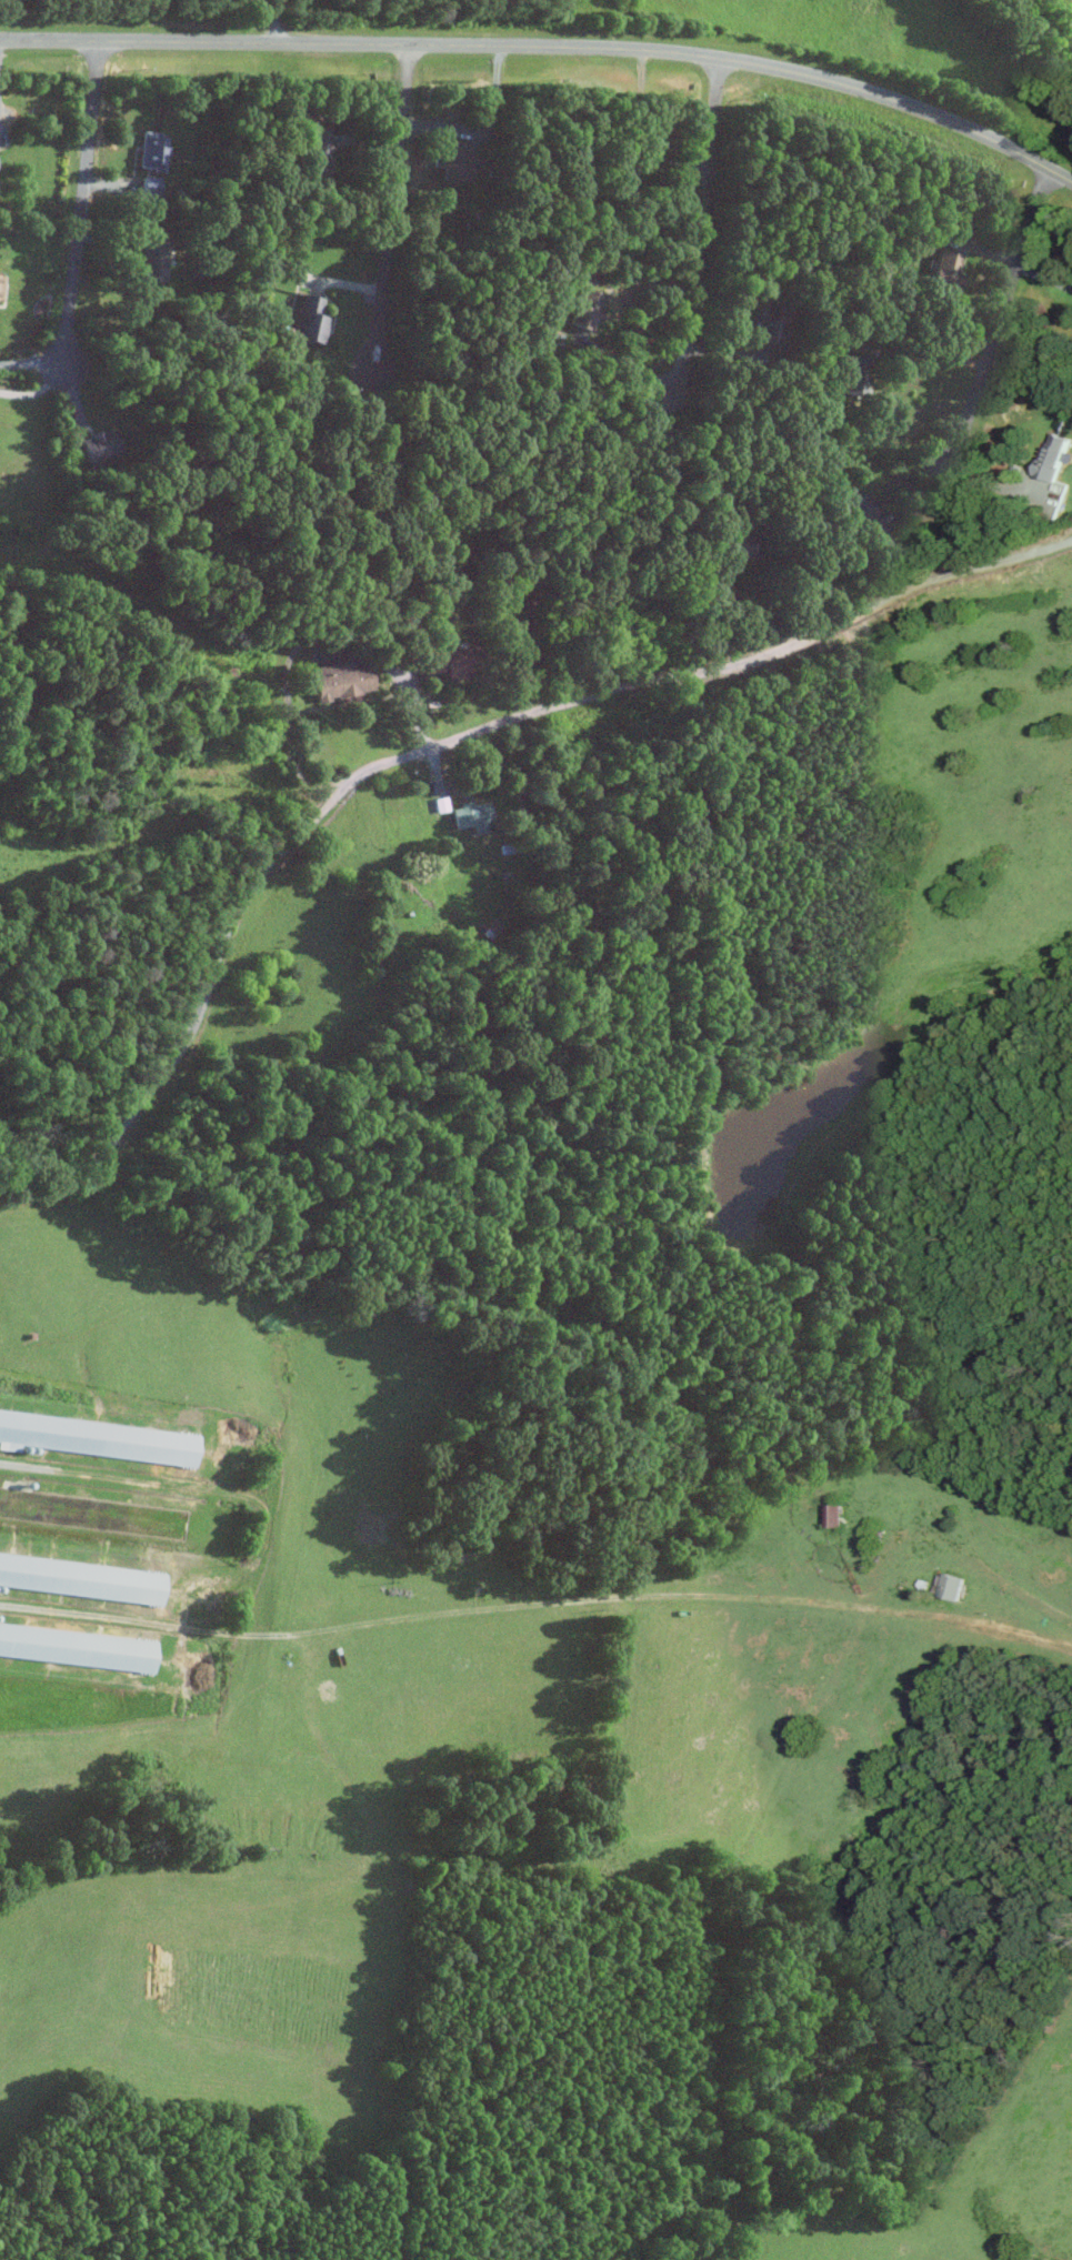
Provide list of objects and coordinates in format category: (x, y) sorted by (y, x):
road: (273, 16)
road: (549, 41)
building: (150, 150)
building: (320, 153)
building: (453, 159)
building: (149, 190)
road: (73, 197)
road: (701, 211)
road: (379, 220)
building: (151, 261)
building: (945, 269)
road: (1040, 273)
building: (584, 308)
building: (308, 319)
building: (768, 331)
road: (989, 337)
road: (31, 363)
road: (38, 391)
building: (99, 444)
building: (1052, 458)
building: (869, 516)
building: (730, 544)
building: (447, 662)
building: (339, 680)
road: (439, 737)
building: (472, 816)
building: (98, 1436)
building: (834, 1514)
building: (81, 1576)
building: (951, 1585)
road: (537, 1601)
building: (77, 1646)

